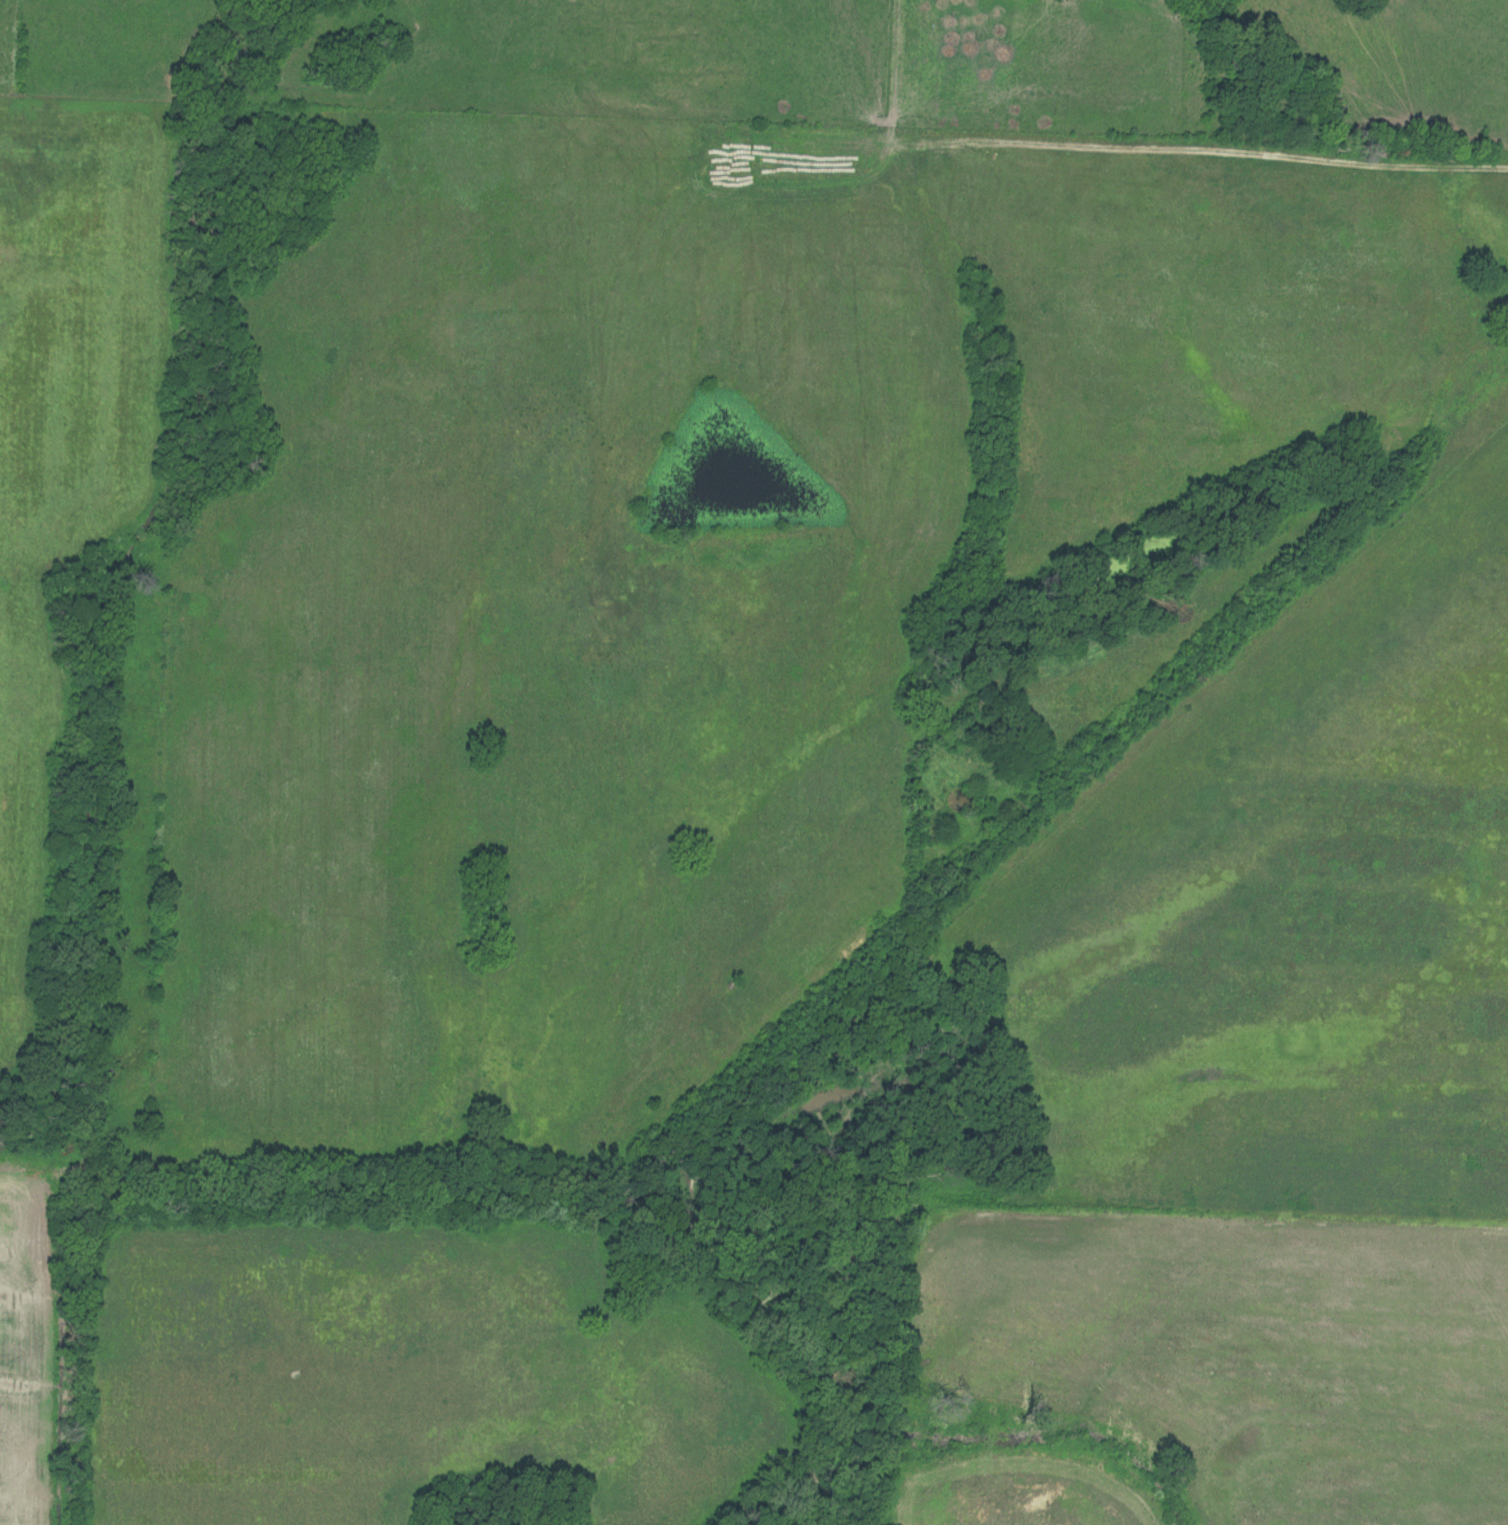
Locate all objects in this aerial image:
crop: (26, 1344)
crop: (1237, 1350)

